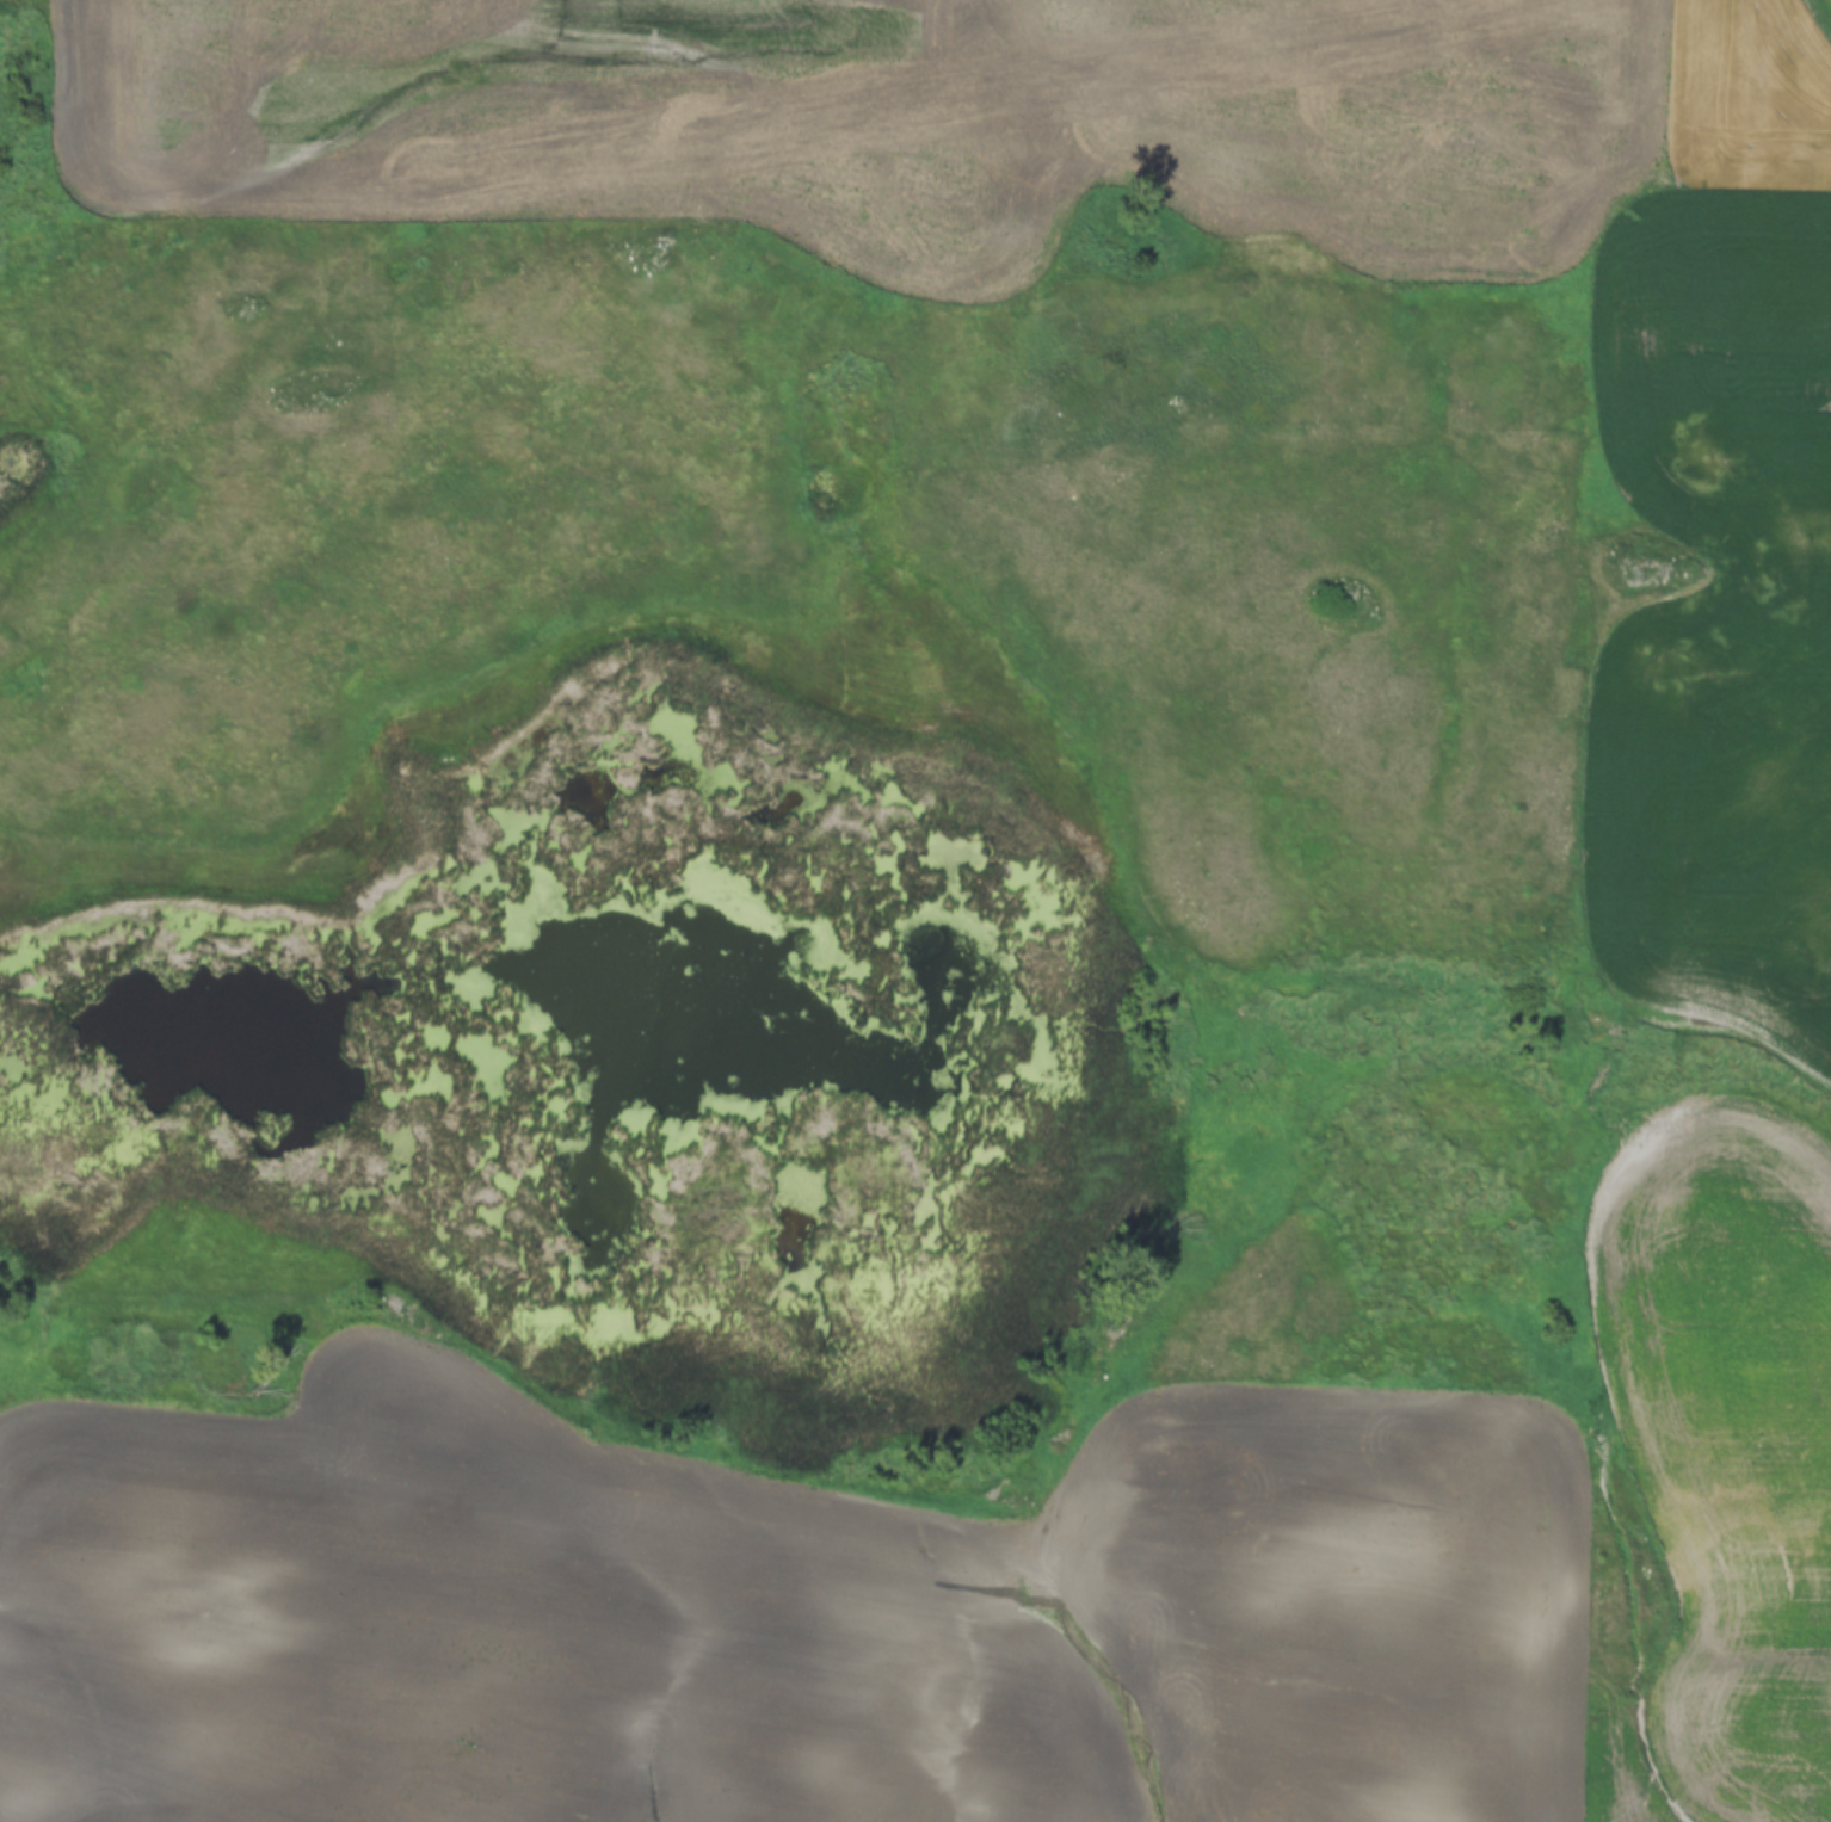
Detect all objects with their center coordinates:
road: (1633, 192)

